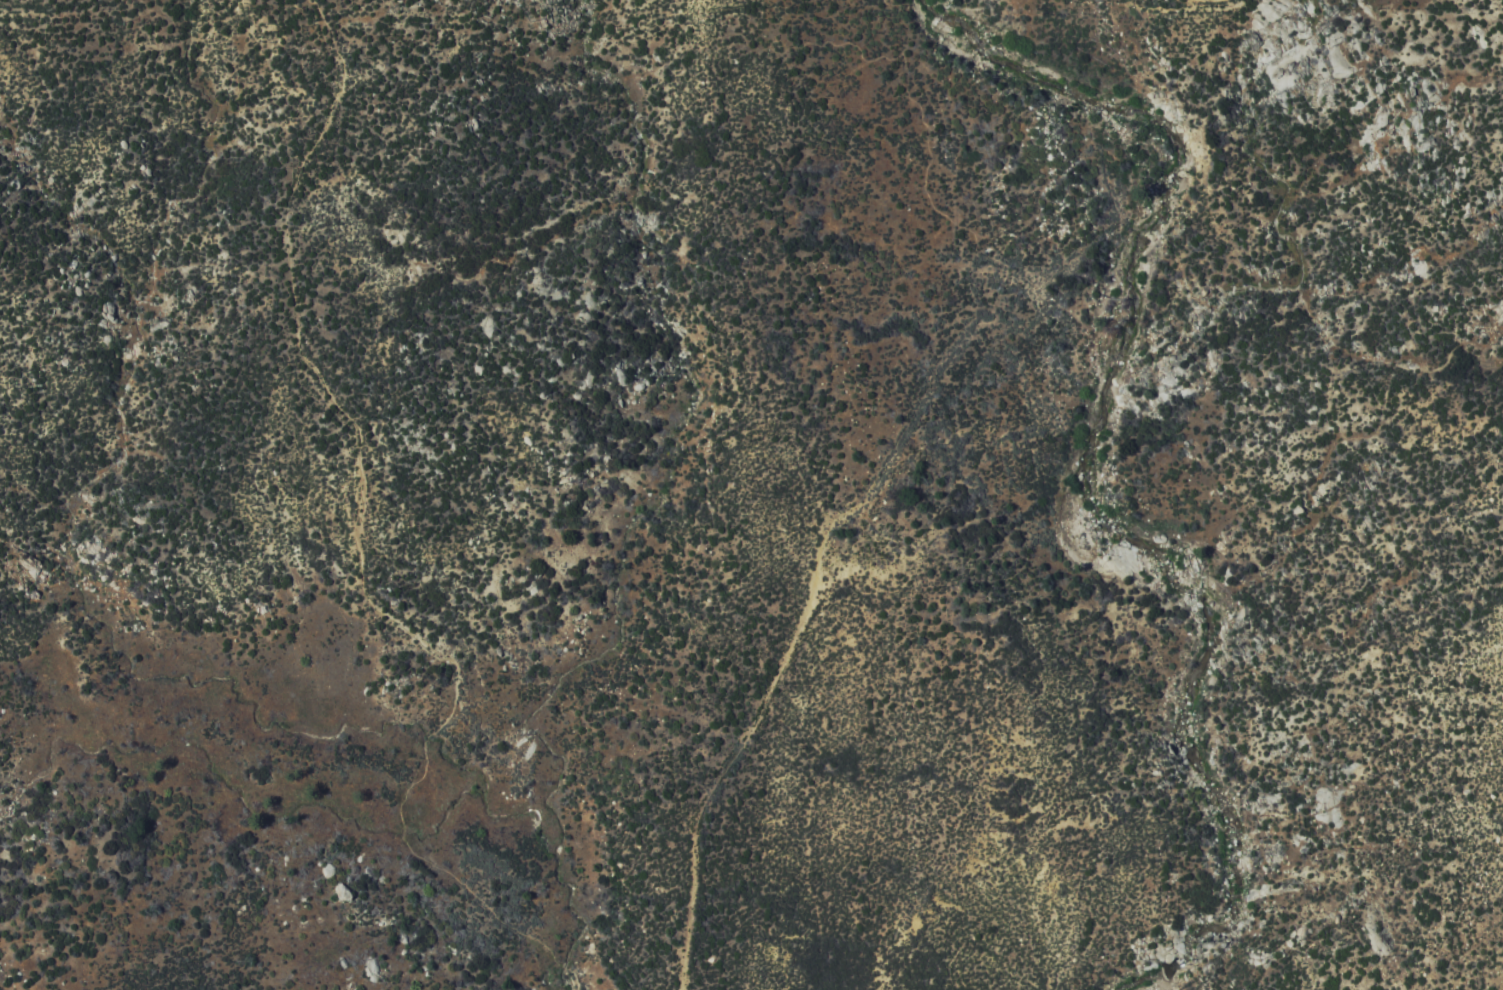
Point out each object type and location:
road: (358, 552)

